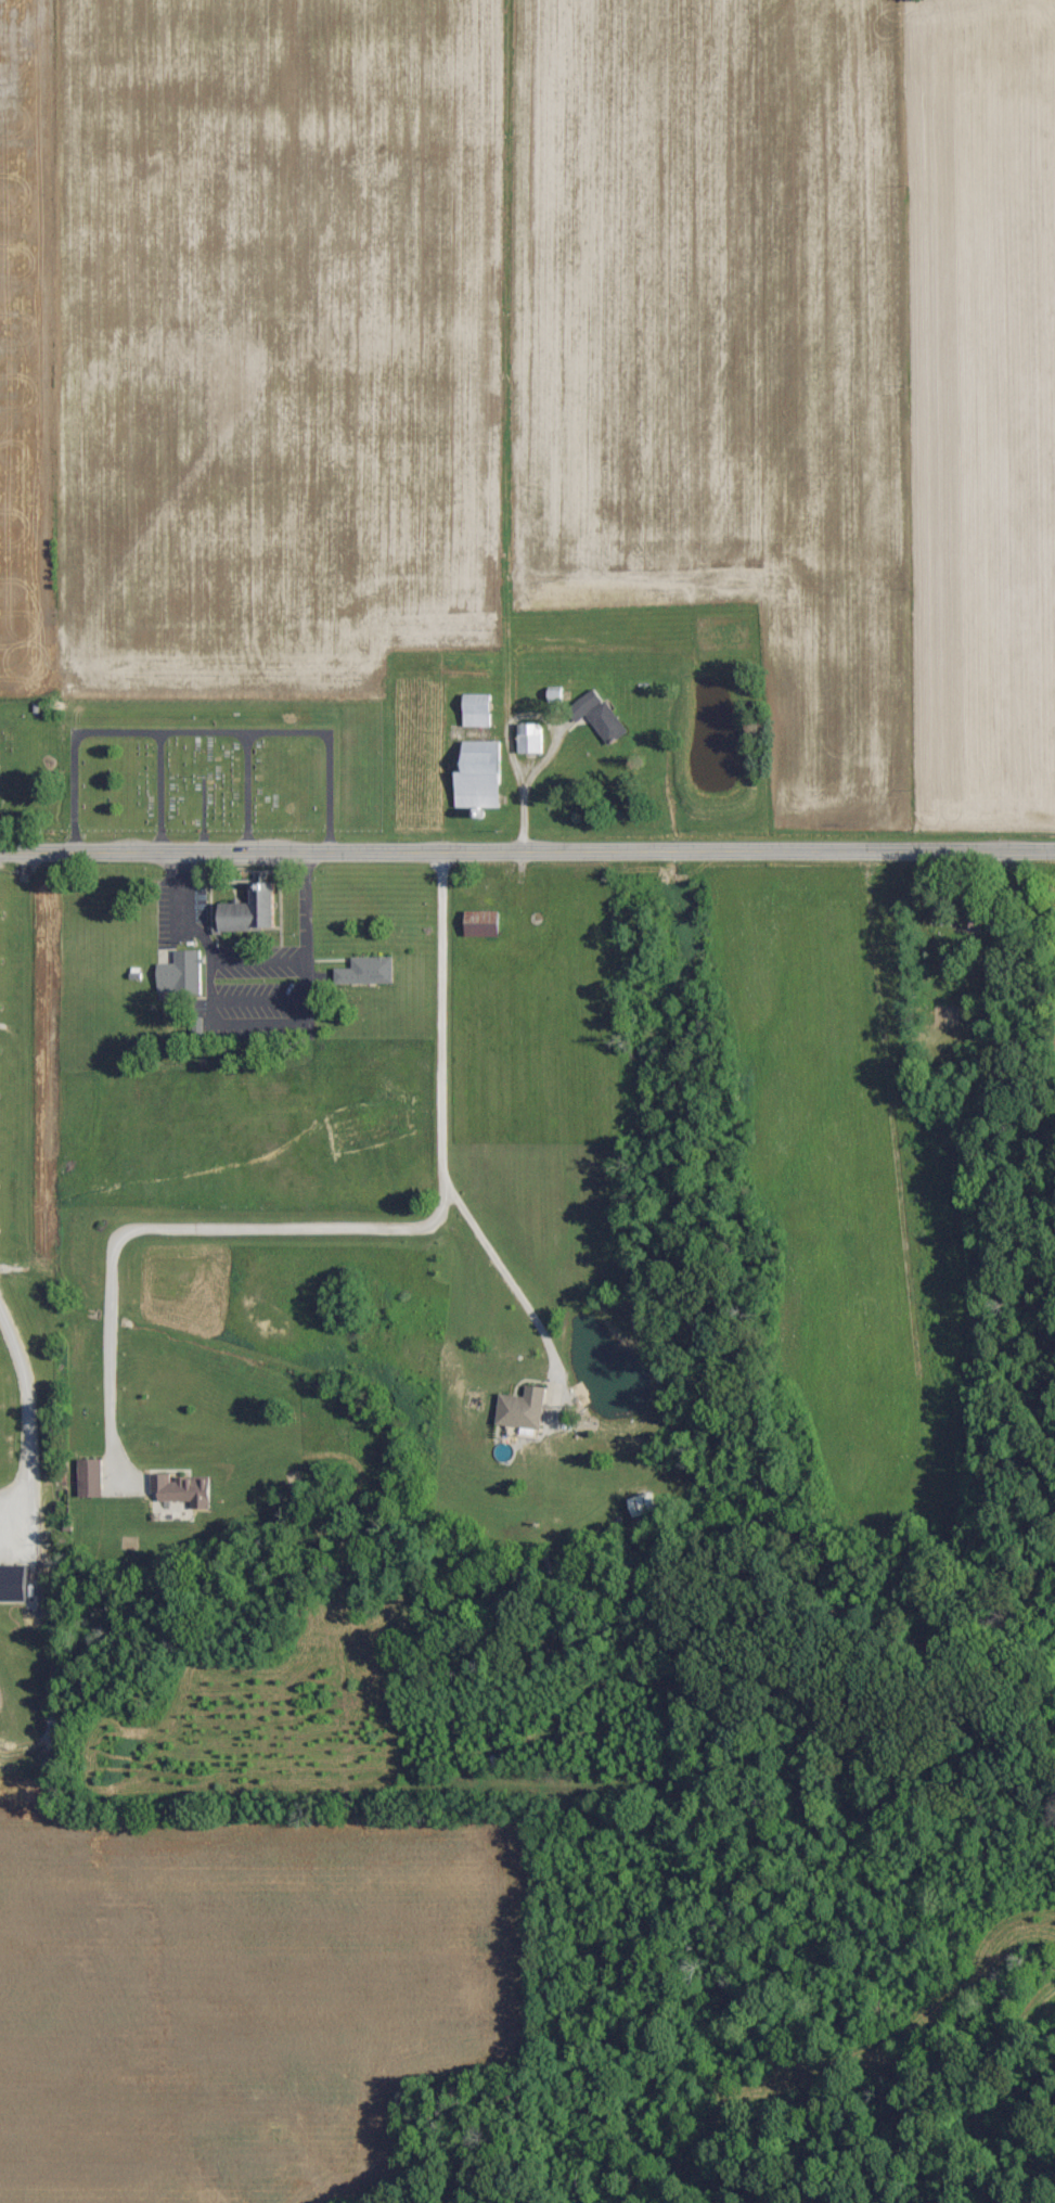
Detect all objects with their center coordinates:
building: (480, 710)
building: (606, 715)
building: (531, 738)
building: (485, 776)
road: (527, 851)
building: (254, 912)
building: (181, 973)
building: (369, 973)
road: (350, 1240)
road: (503, 1291)
building: (526, 1409)
building: (93, 1478)
building: (185, 1490)
building: (16, 1585)

